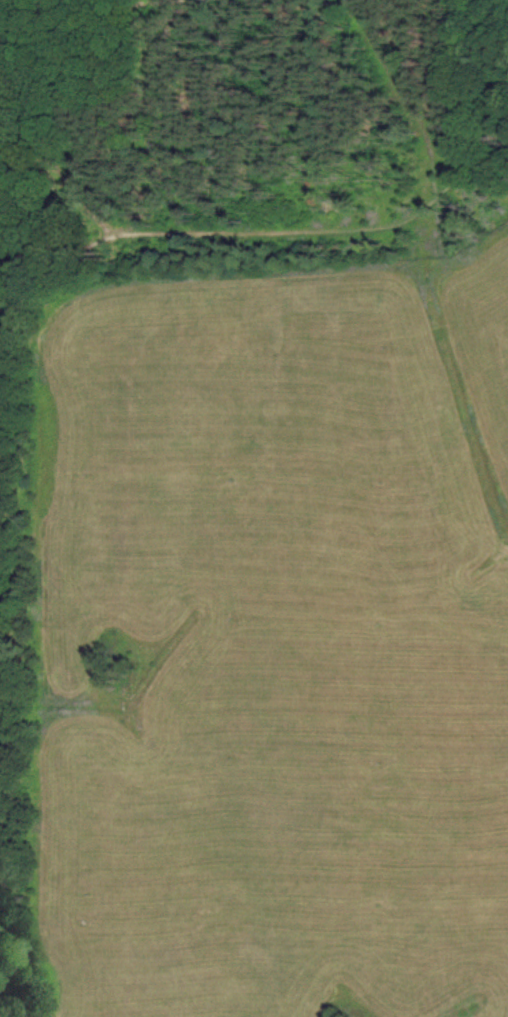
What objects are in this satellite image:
road: (54, 13)
road: (394, 100)
park: (227, 163)
road: (255, 233)
landfill: (265, 654)

